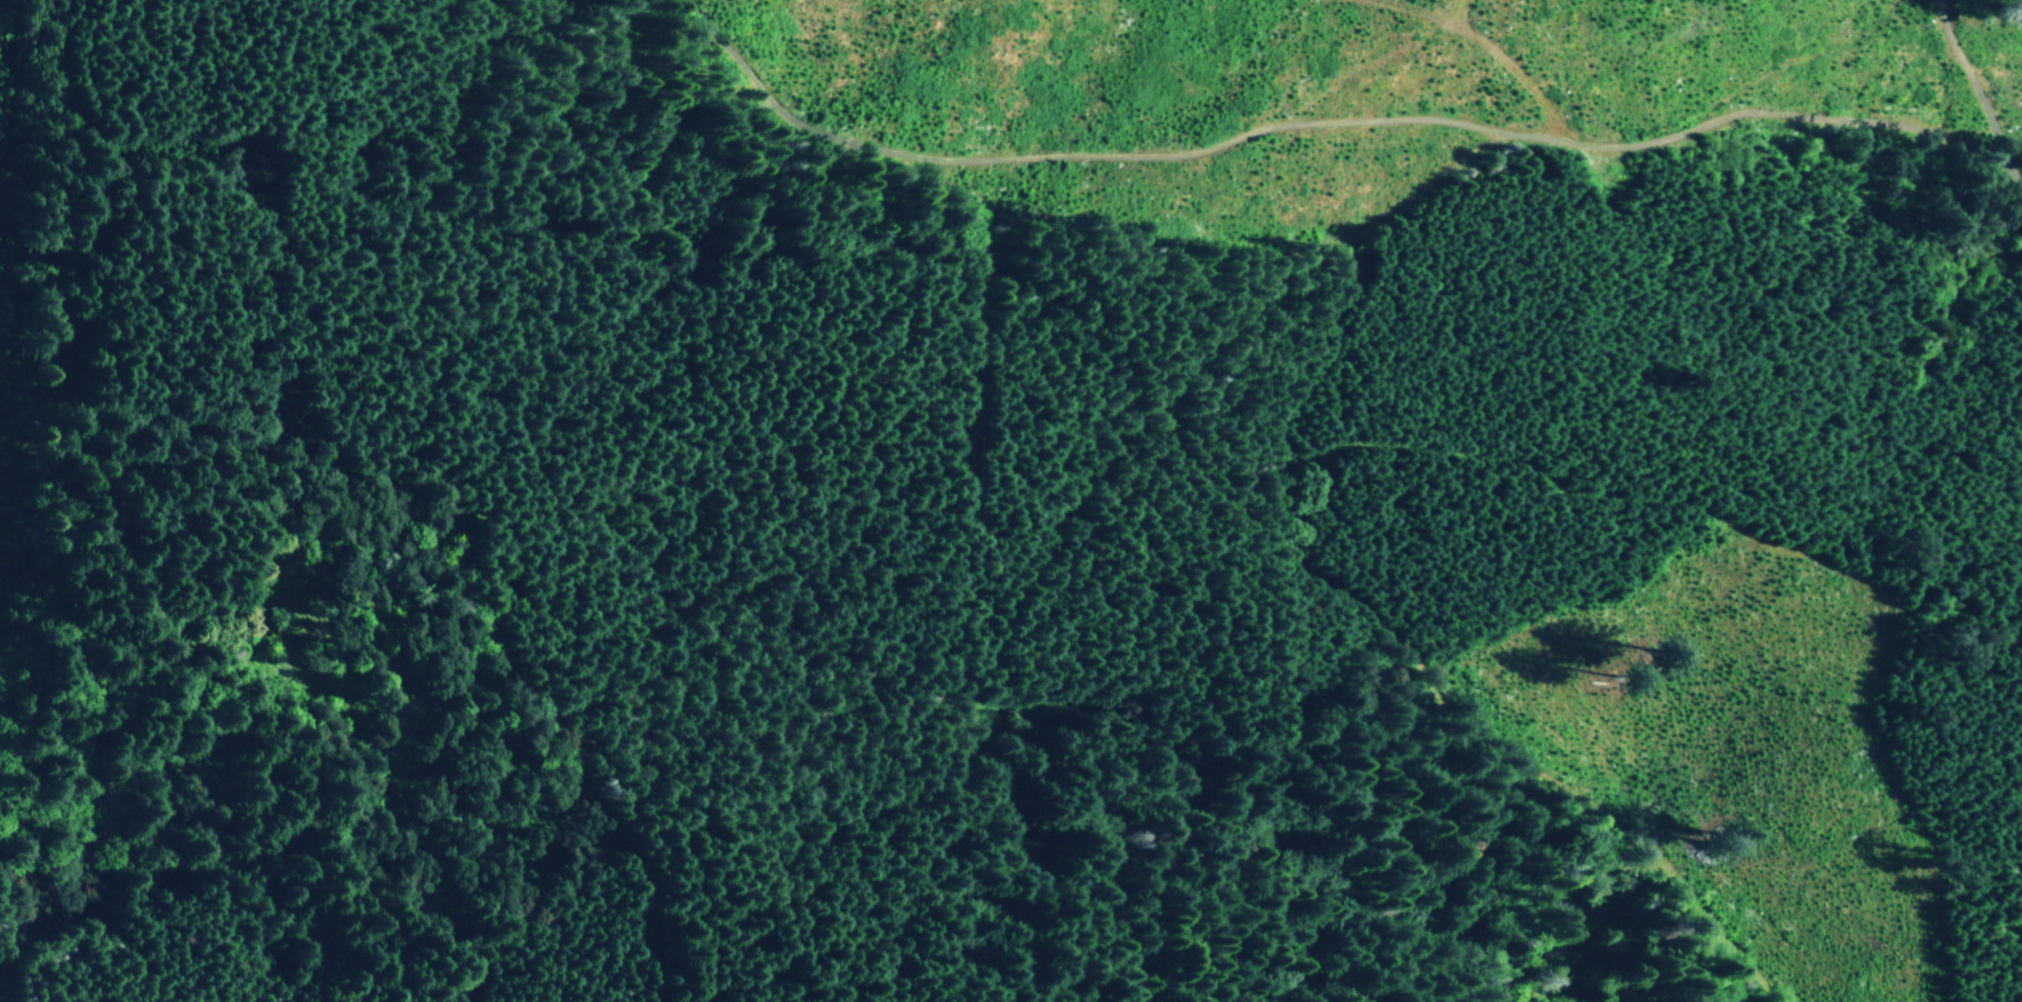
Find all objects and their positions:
crop: (1314, 96)
road: (970, 496)
road: (1257, 525)

